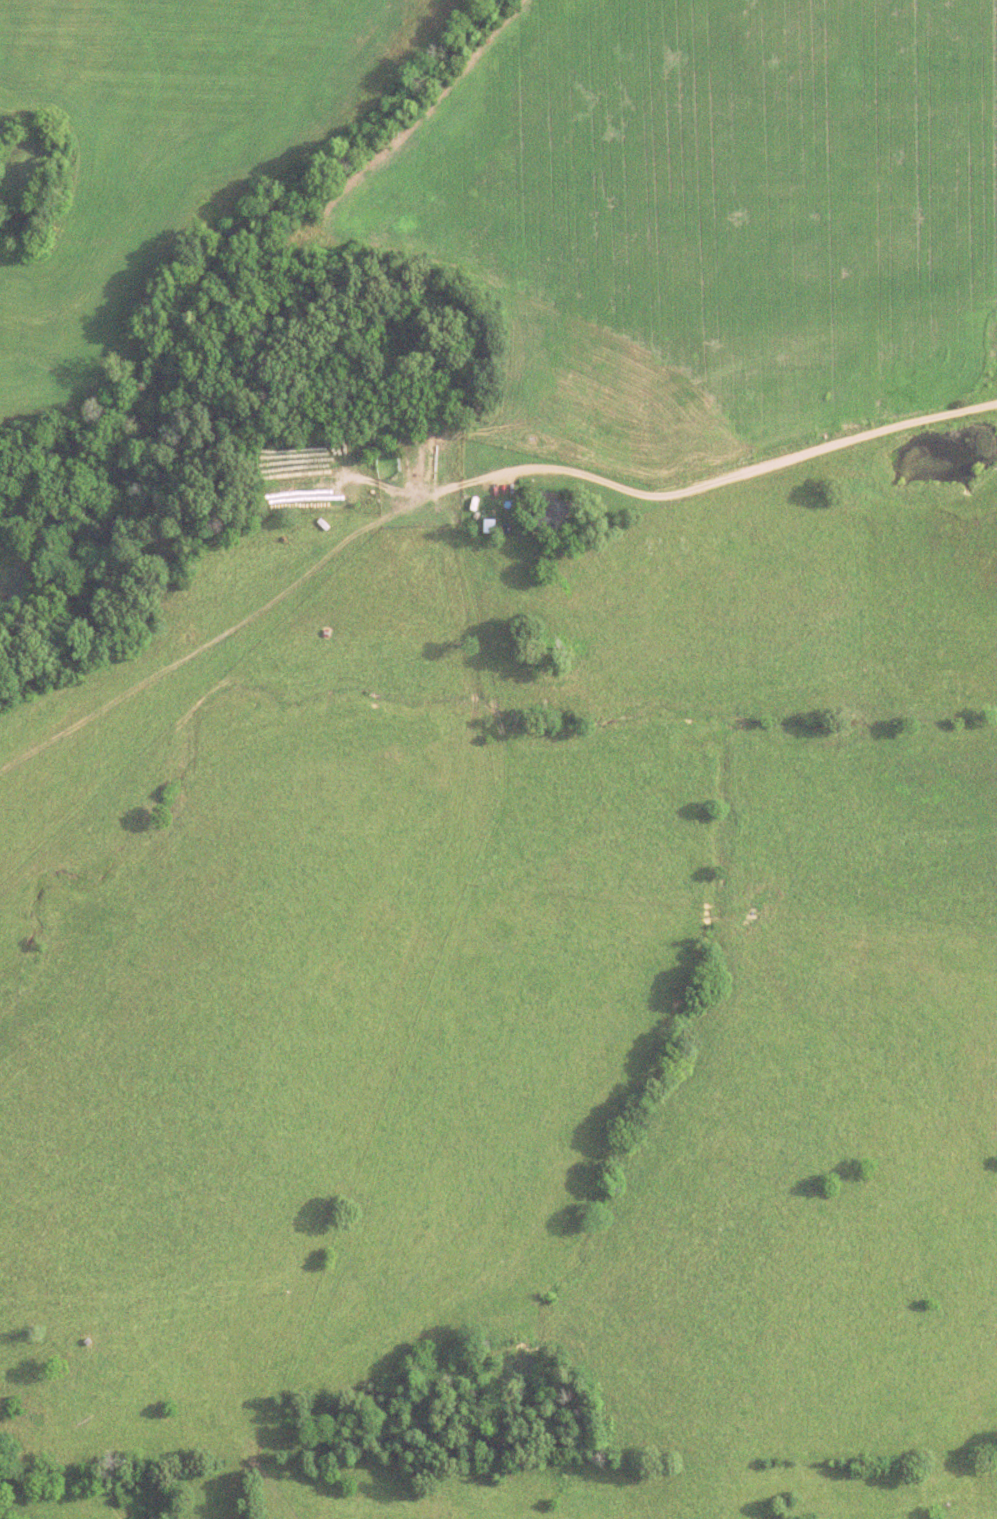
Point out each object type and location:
road: (769, 467)
building: (546, 520)

